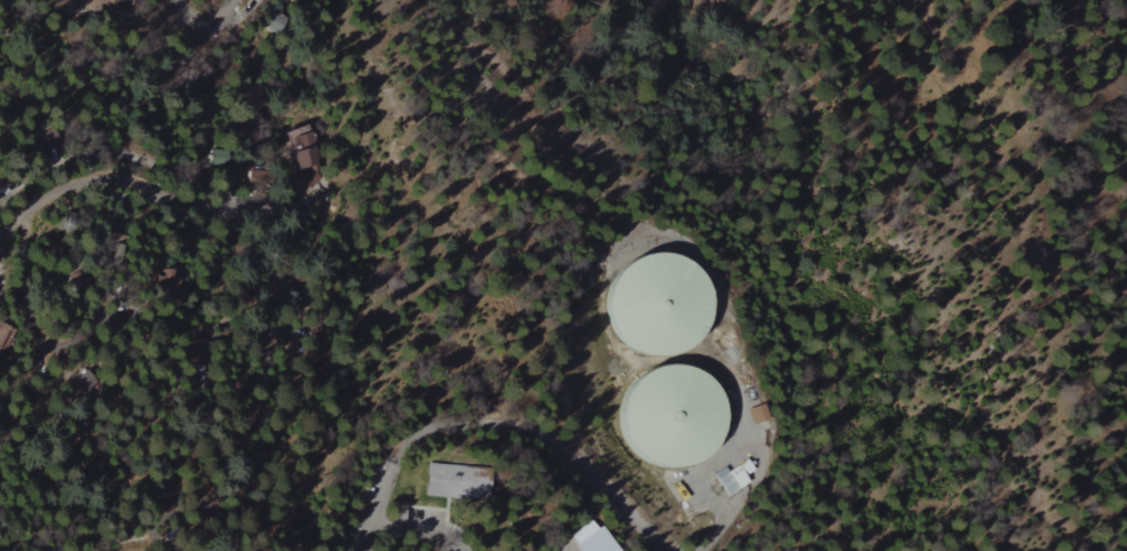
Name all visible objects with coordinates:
building: (294, 1)
building: (105, 7)
road: (209, 18)
road: (475, 134)
building: (297, 144)
road: (146, 187)
building: (75, 280)
building: (651, 305)
road: (101, 322)
road: (747, 374)
building: (757, 414)
building: (664, 416)
road: (503, 432)
building: (731, 478)
building: (451, 483)
building: (590, 538)

